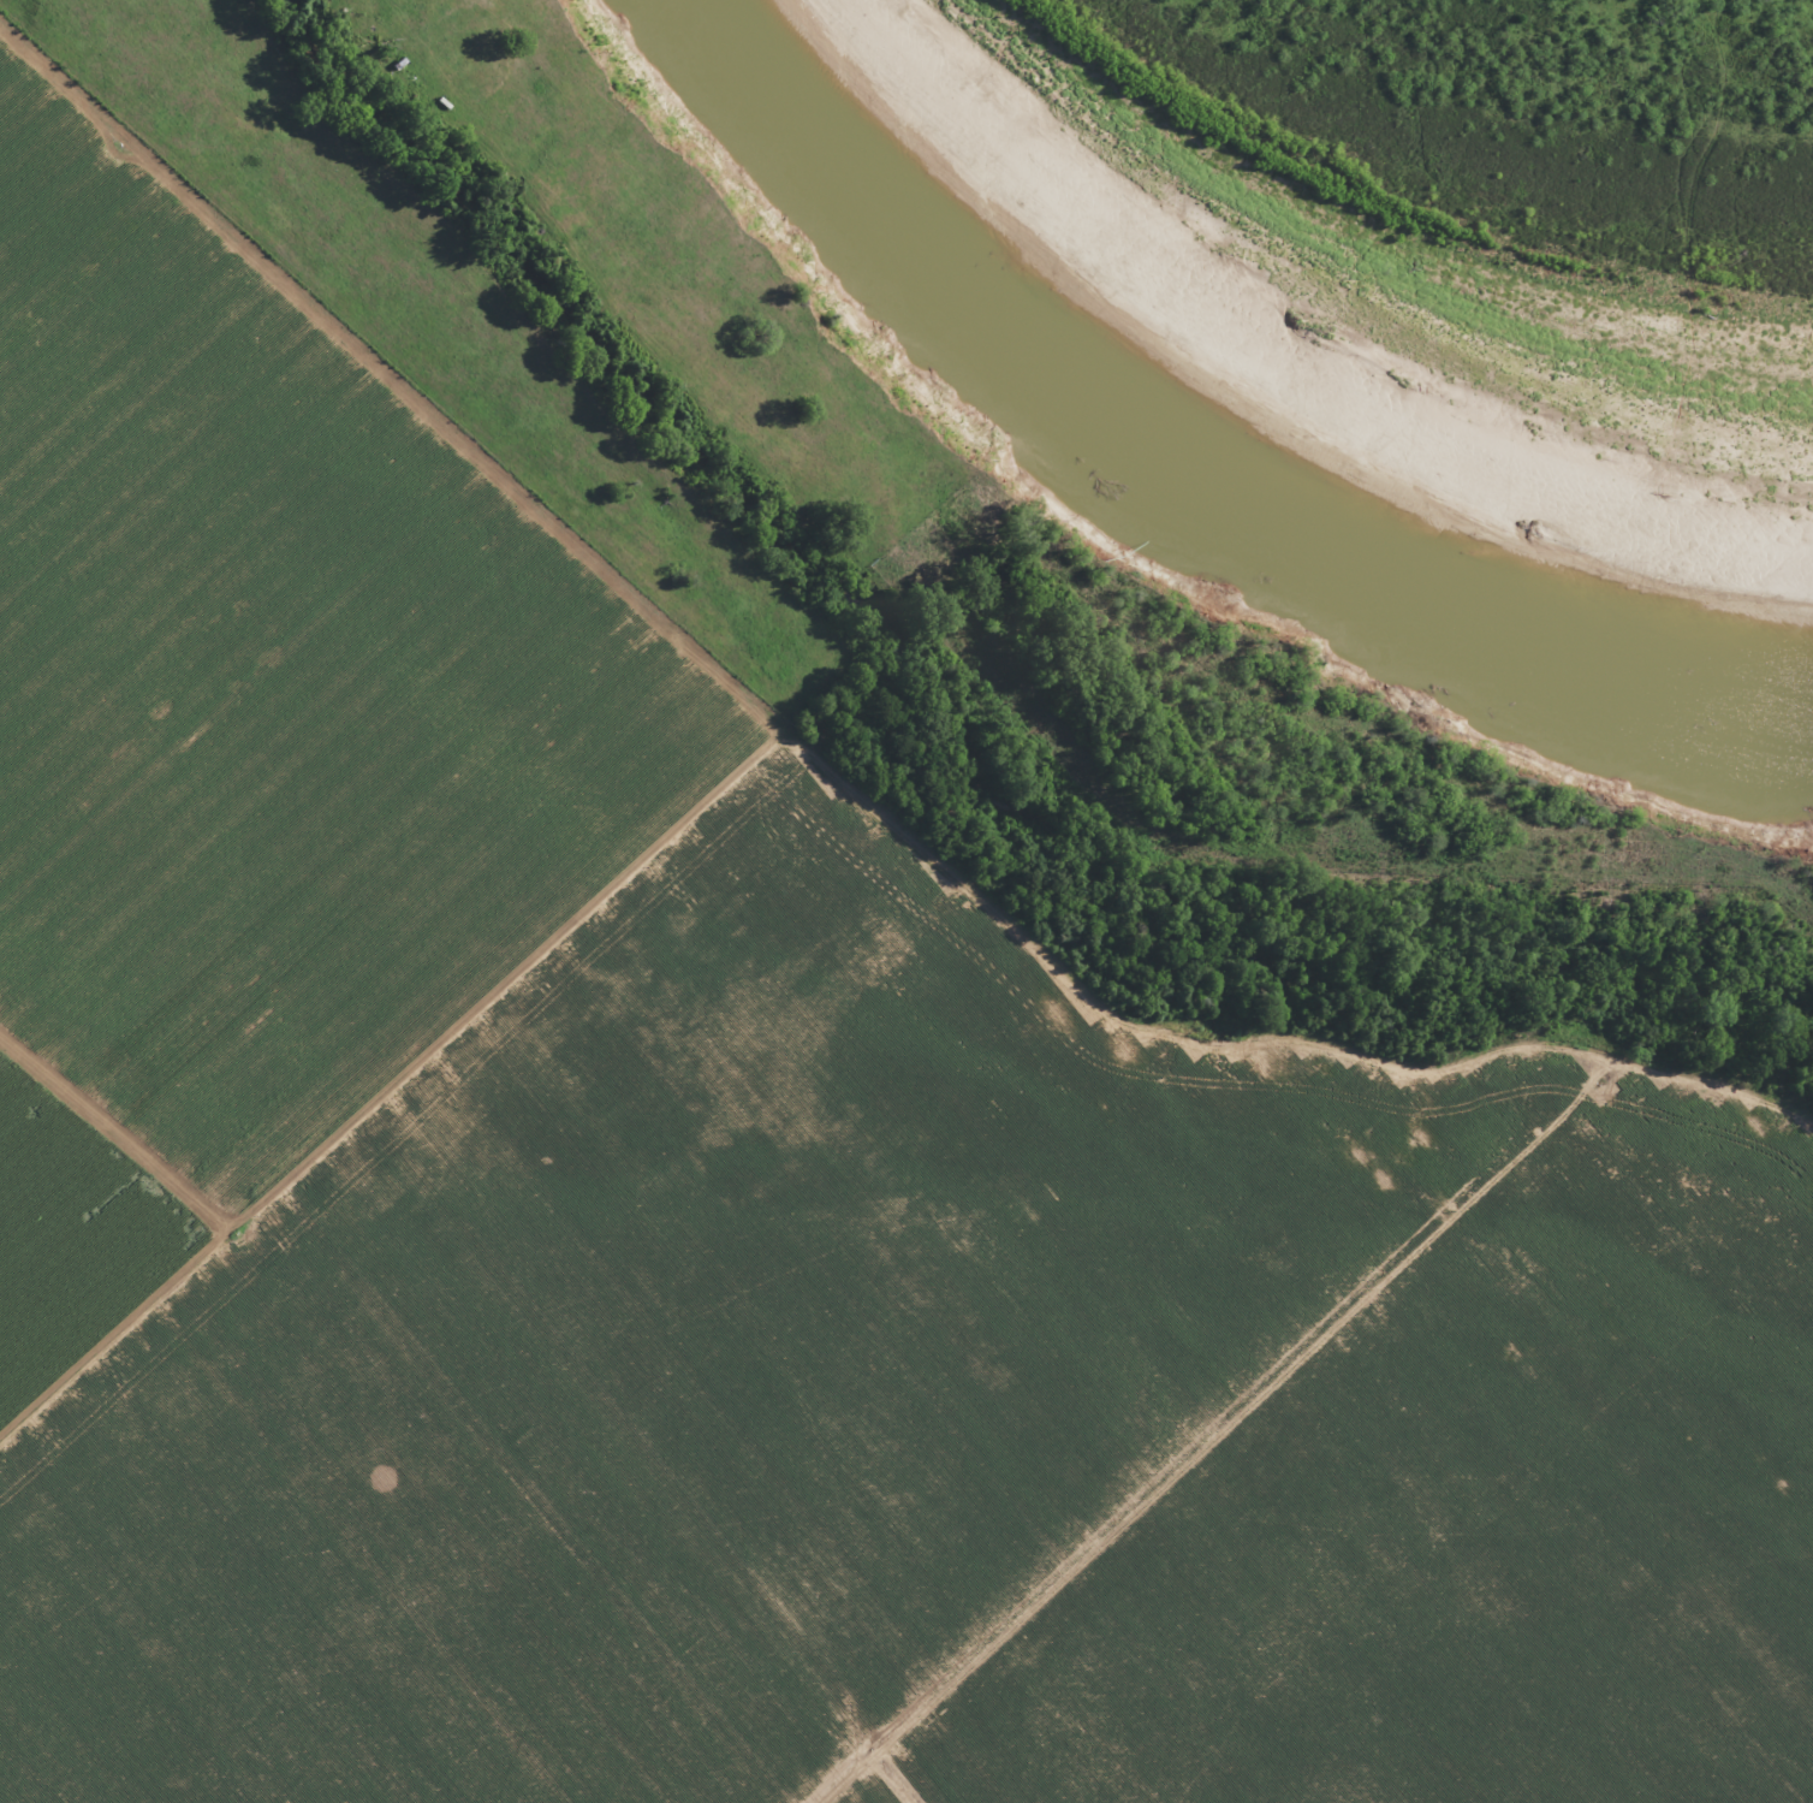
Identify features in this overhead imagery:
road: (575, 263)
river: (1235, 333)

